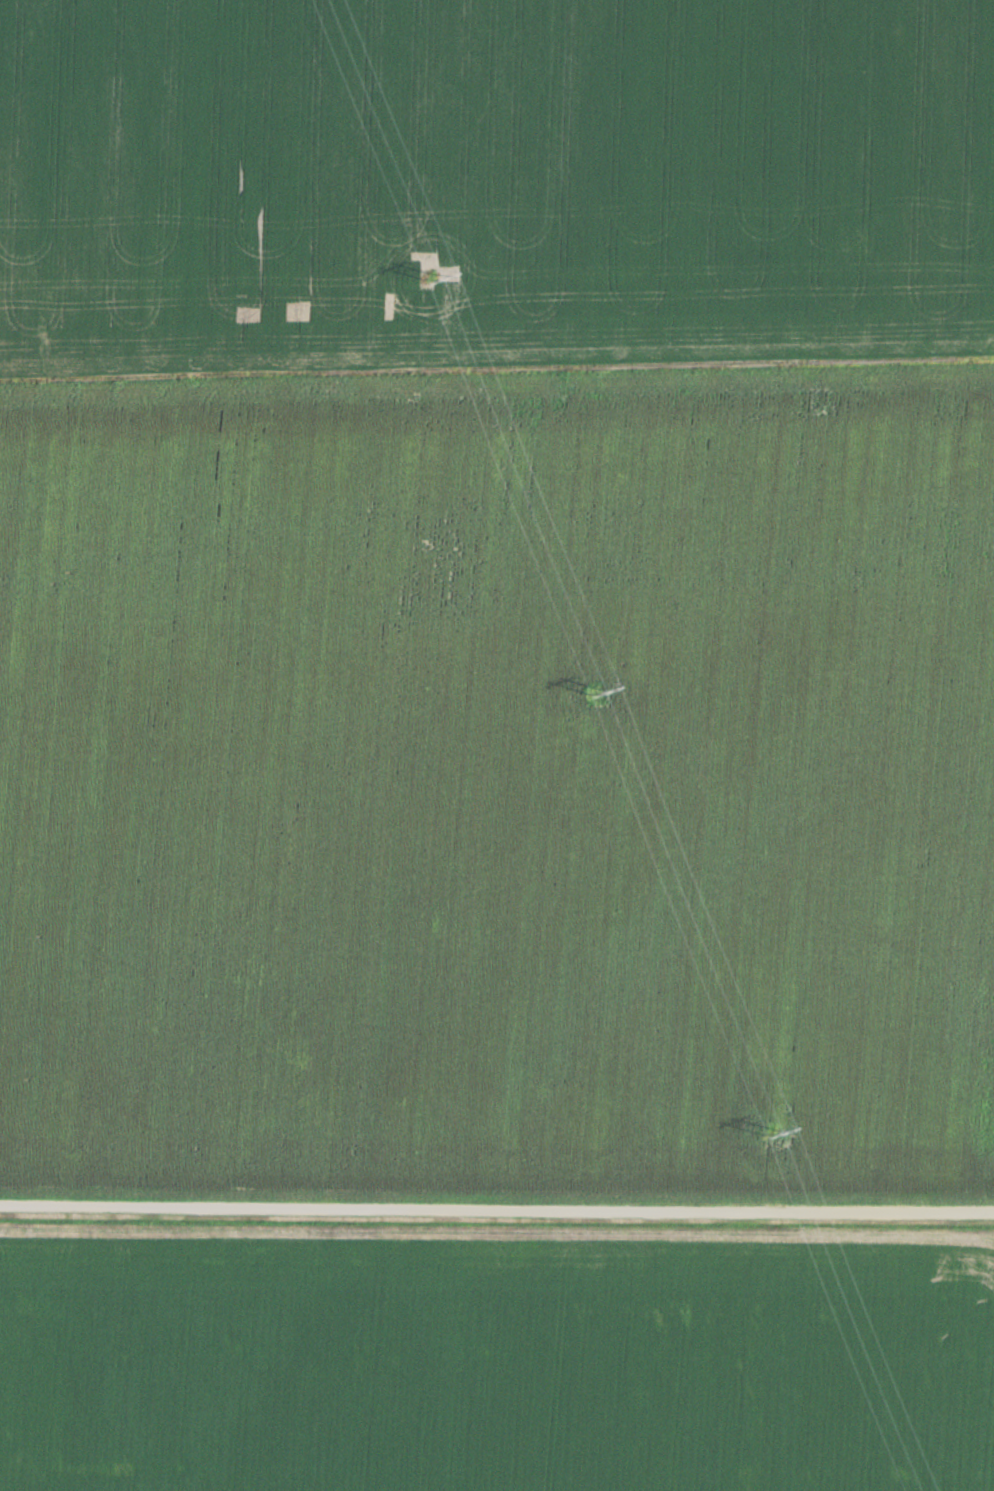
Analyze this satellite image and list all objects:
power tower: (428, 272)
power tower: (593, 686)
power tower: (765, 1129)
road: (497, 1207)

